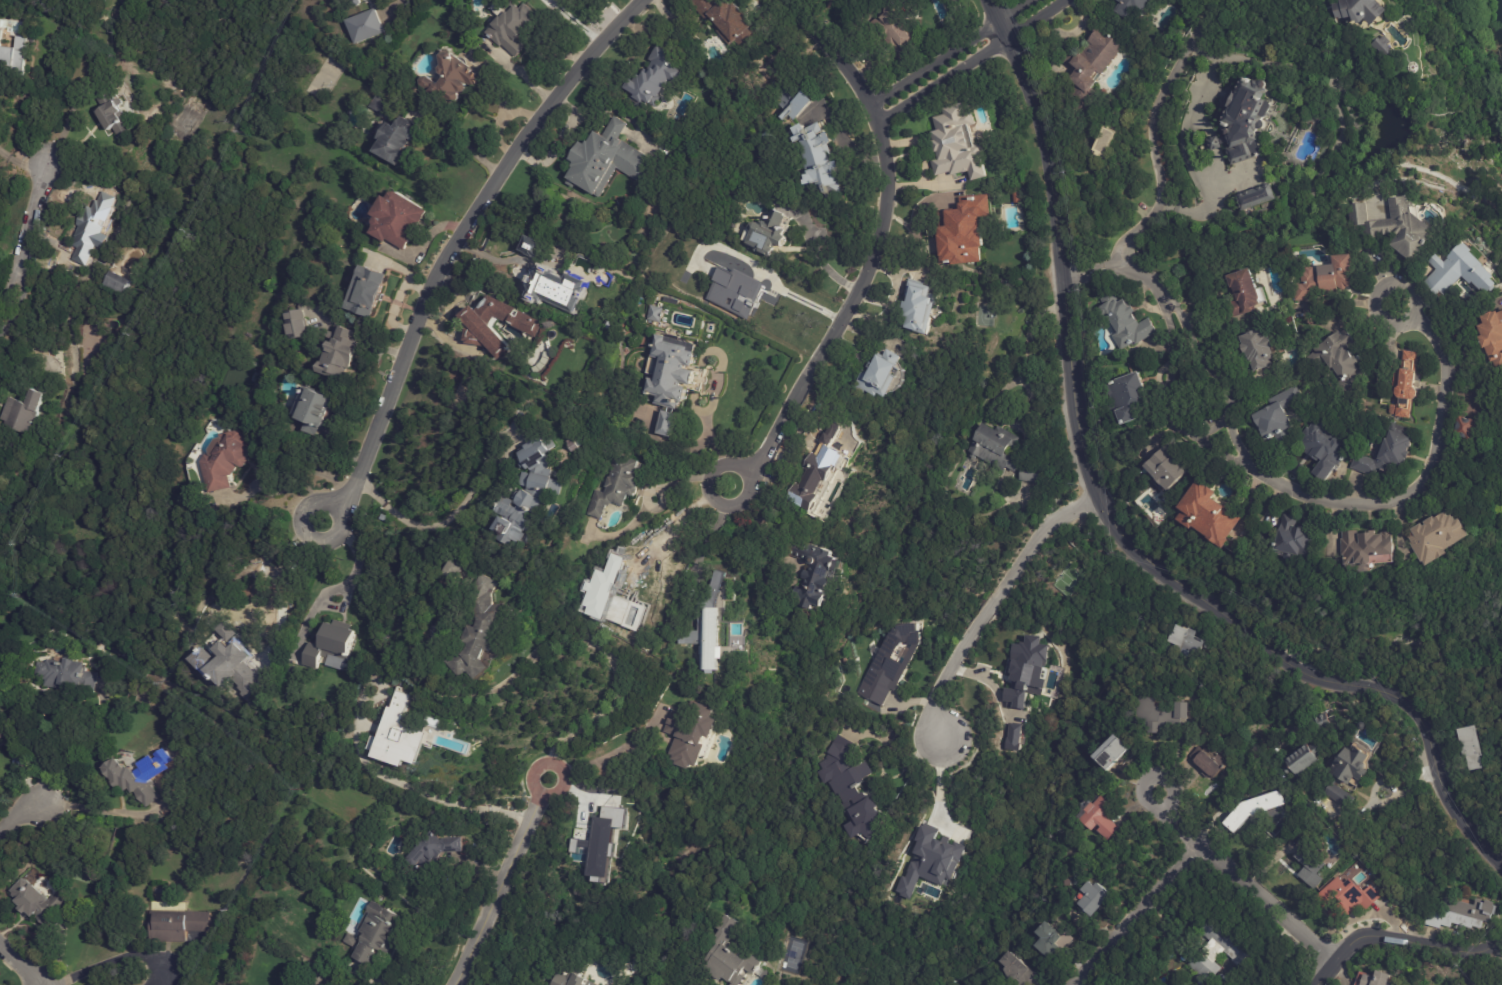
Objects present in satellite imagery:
building: (357, 3)
building: (1131, 9)
building: (1357, 11)
building: (733, 21)
building: (367, 26)
building: (515, 30)
building: (904, 34)
building: (1379, 46)
building: (15, 56)
road: (959, 56)
building: (1088, 65)
building: (657, 76)
building: (454, 79)
road: (1159, 99)
building: (792, 101)
building: (382, 106)
building: (117, 118)
building: (1244, 122)
building: (767, 137)
building: (398, 139)
road: (465, 141)
building: (956, 144)
building: (1102, 144)
building: (819, 158)
building: (609, 160)
building: (1014, 197)
building: (1251, 199)
road: (1169, 210)
building: (399, 219)
building: (1390, 223)
building: (960, 229)
building: (91, 231)
building: (770, 235)
road: (26, 243)
road: (455, 245)
road: (876, 245)
building: (534, 248)
road: (821, 257)
road: (1121, 263)
building: (1457, 272)
building: (607, 282)
building: (1323, 282)
building: (119, 284)
building: (559, 288)
building: (735, 291)
building: (369, 293)
building: (1242, 295)
building: (916, 308)
building: (657, 313)
road: (1066, 322)
building: (296, 324)
building: (1125, 324)
building: (480, 331)
building: (1493, 339)
building: (1255, 351)
building: (337, 353)
building: (856, 356)
building: (1336, 360)
building: (858, 365)
road: (1206, 366)
building: (676, 373)
building: (875, 375)
road: (1166, 386)
building: (1405, 386)
building: (1476, 394)
building: (1127, 398)
building: (314, 412)
building: (22, 413)
building: (1276, 418)
building: (670, 426)
building: (1468, 432)
building: (993, 449)
building: (543, 453)
building: (1323, 454)
building: (1387, 454)
building: (224, 460)
road: (291, 465)
building: (1164, 470)
building: (1030, 473)
building: (823, 478)
building: (548, 482)
building: (618, 485)
road: (1408, 487)
road: (470, 492)
road: (647, 505)
building: (521, 515)
building: (1204, 517)
road: (762, 526)
building: (1435, 539)
building: (1292, 542)
building: (1363, 551)
building: (461, 568)
building: (819, 571)
building: (477, 573)
road: (342, 589)
building: (713, 589)
building: (468, 593)
road: (991, 605)
road: (1214, 611)
building: (489, 630)
building: (712, 638)
building: (1179, 640)
building: (331, 645)
road: (595, 646)
building: (890, 663)
building: (1026, 671)
building: (68, 675)
road: (1400, 700)
building: (1155, 716)
building: (1314, 724)
building: (6, 729)
building: (402, 735)
building: (700, 735)
building: (1013, 737)
building: (1466, 748)
building: (1109, 754)
building: (15, 760)
building: (1296, 760)
road: (26, 761)
road: (601, 761)
building: (1202, 765)
building: (1345, 776)
building: (136, 781)
building: (850, 788)
road: (939, 795)
building: (1239, 812)
road: (17, 818)
building: (1094, 818)
building: (603, 841)
building: (439, 849)
building: (929, 863)
building: (1308, 867)
road: (1242, 881)
road: (500, 882)
building: (1346, 896)
road: (419, 898)
building: (1092, 899)
building: (42, 903)
building: (312, 903)
road: (1138, 914)
building: (1459, 915)
building: (180, 925)
building: (377, 930)
building: (196, 936)
building: (353, 941)
road: (1401, 942)
building: (1048, 944)
building: (1213, 953)
road: (122, 959)
road: (21, 964)
building: (740, 964)
building: (1017, 971)
building: (575, 978)
building: (1373, 980)
building: (286, 983)
building: (303, 983)

